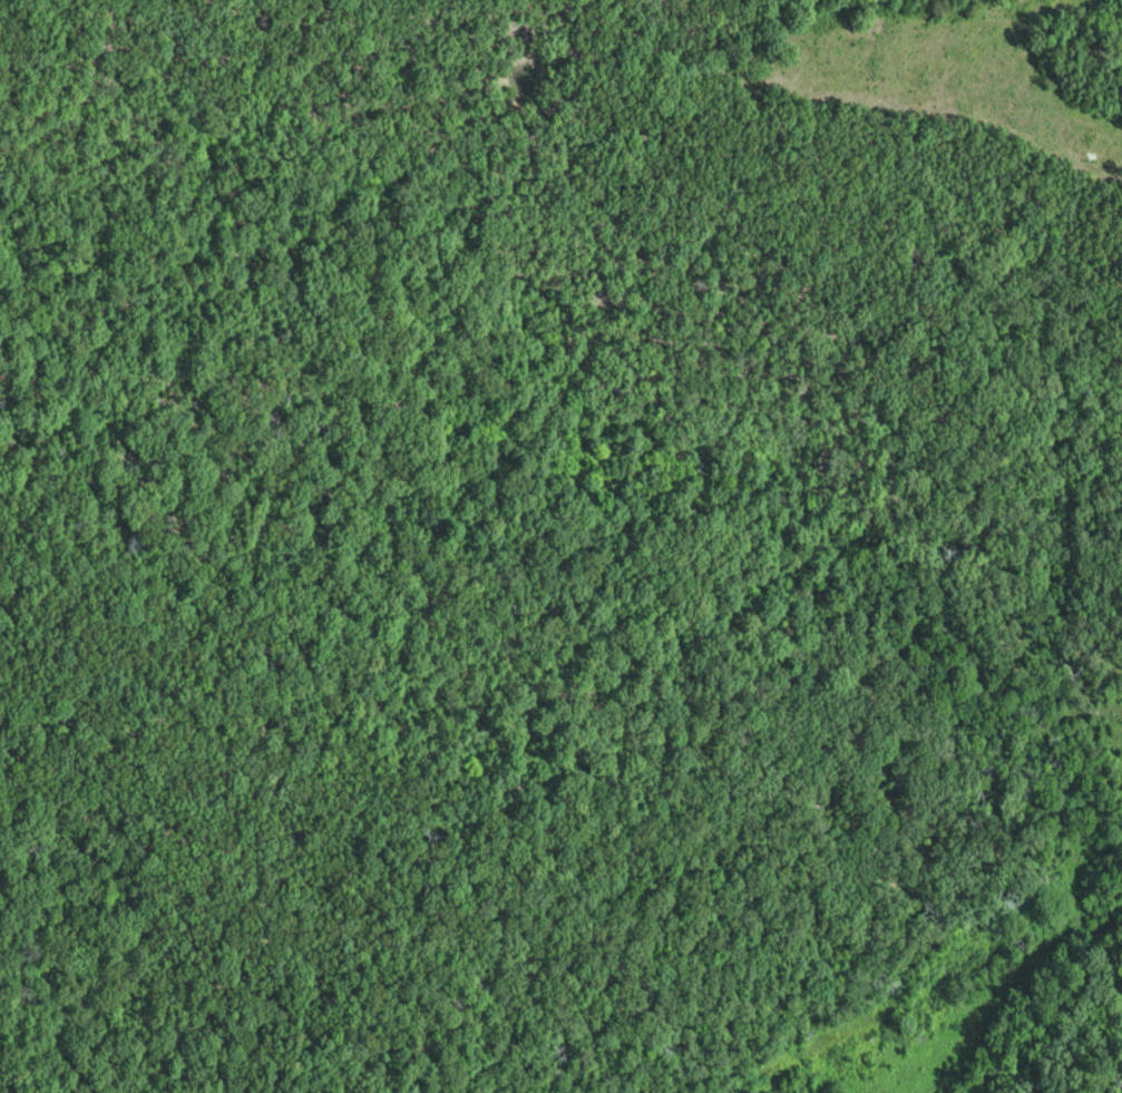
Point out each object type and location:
road: (1058, 59)
road: (875, 108)

